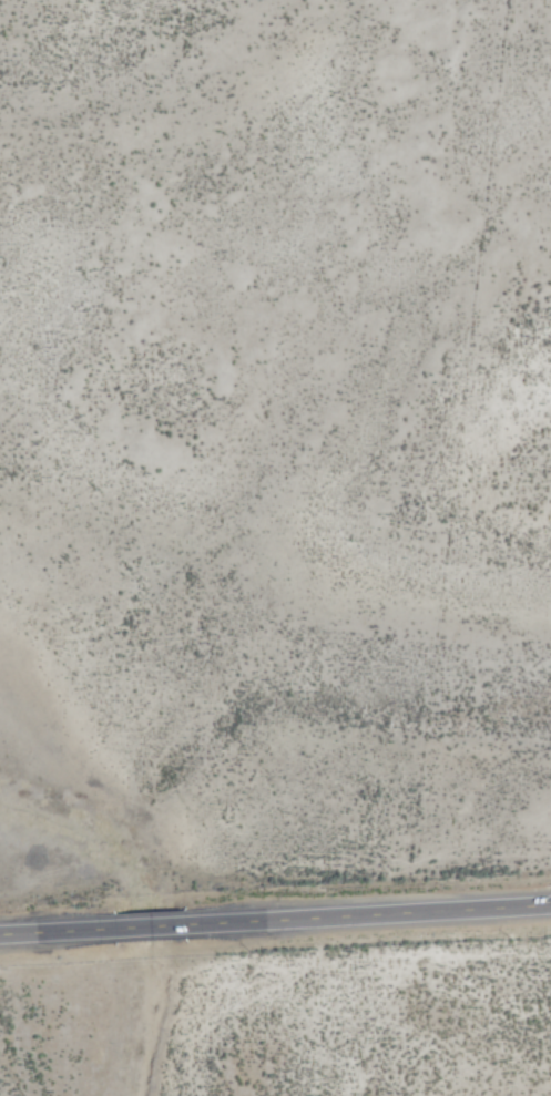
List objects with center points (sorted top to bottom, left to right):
road: (386, 910)
road: (144, 924)
road: (33, 930)

